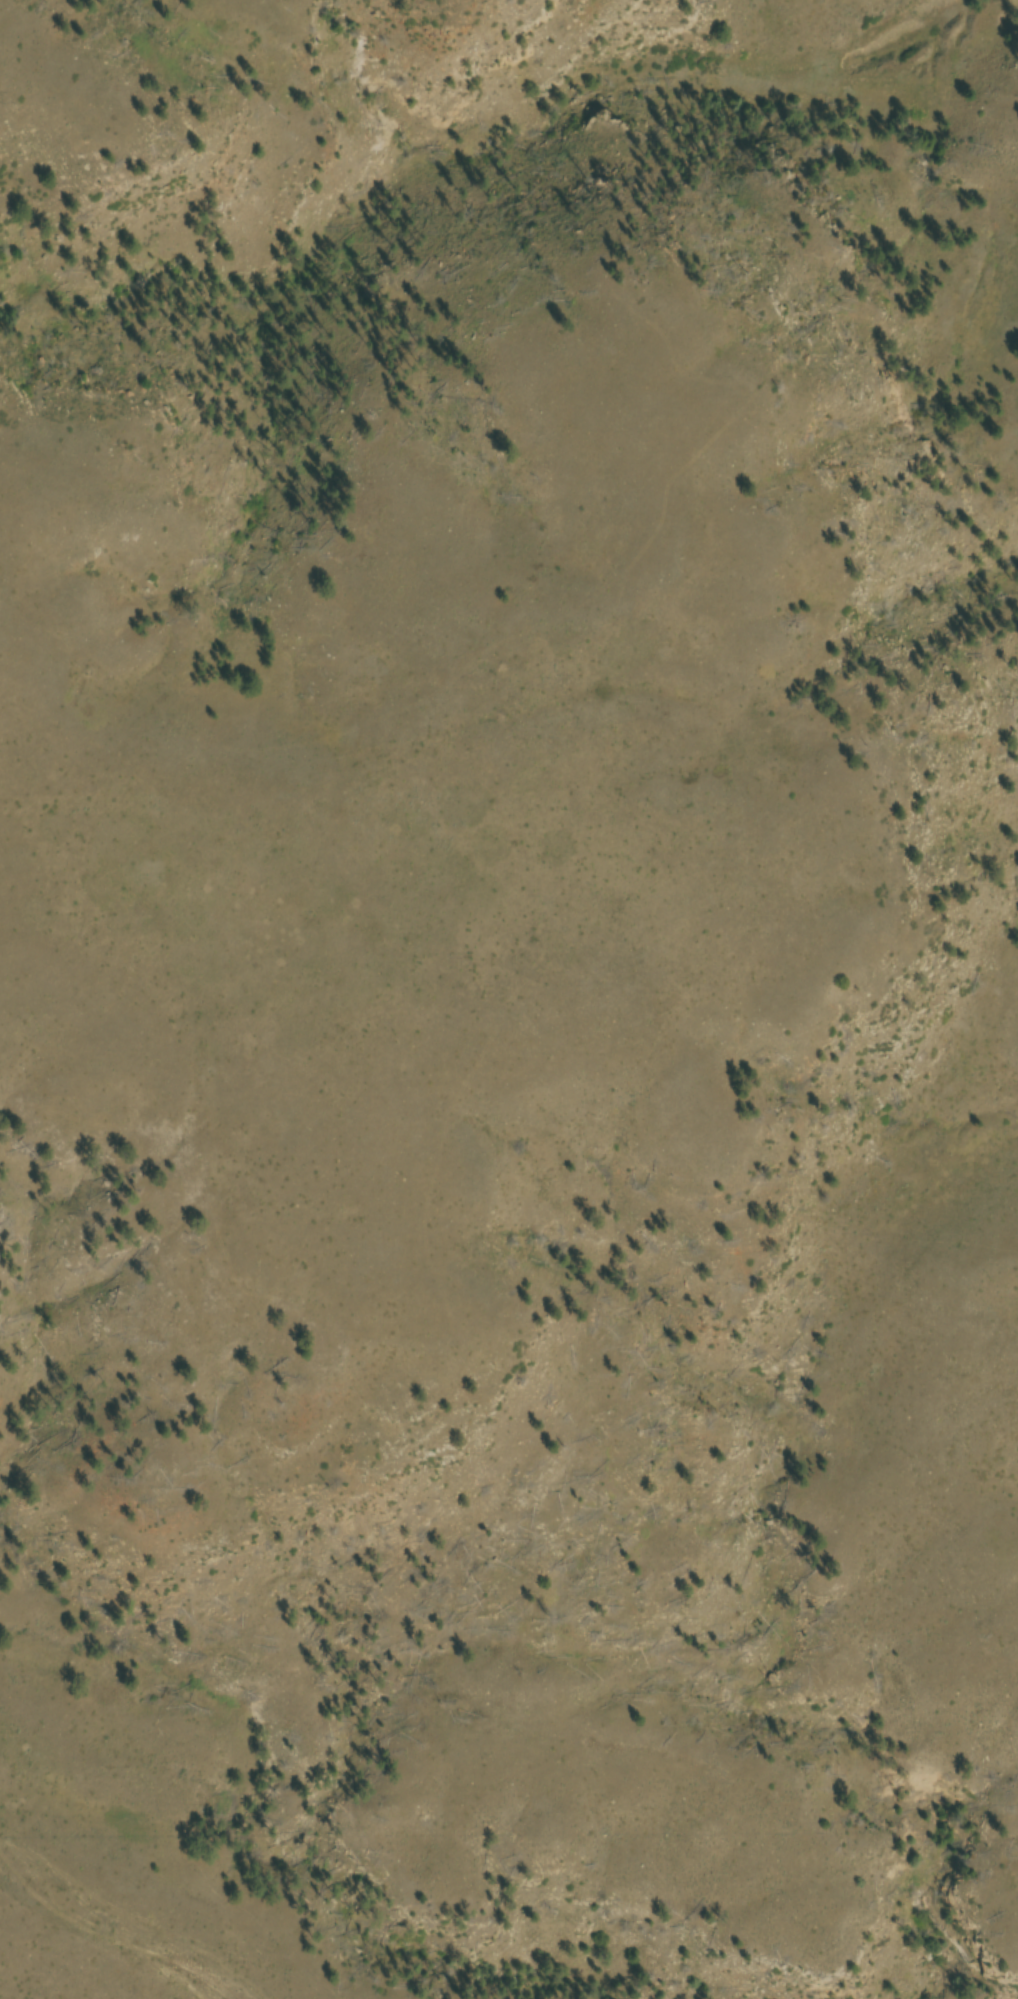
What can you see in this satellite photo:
park: (513, 1899)

